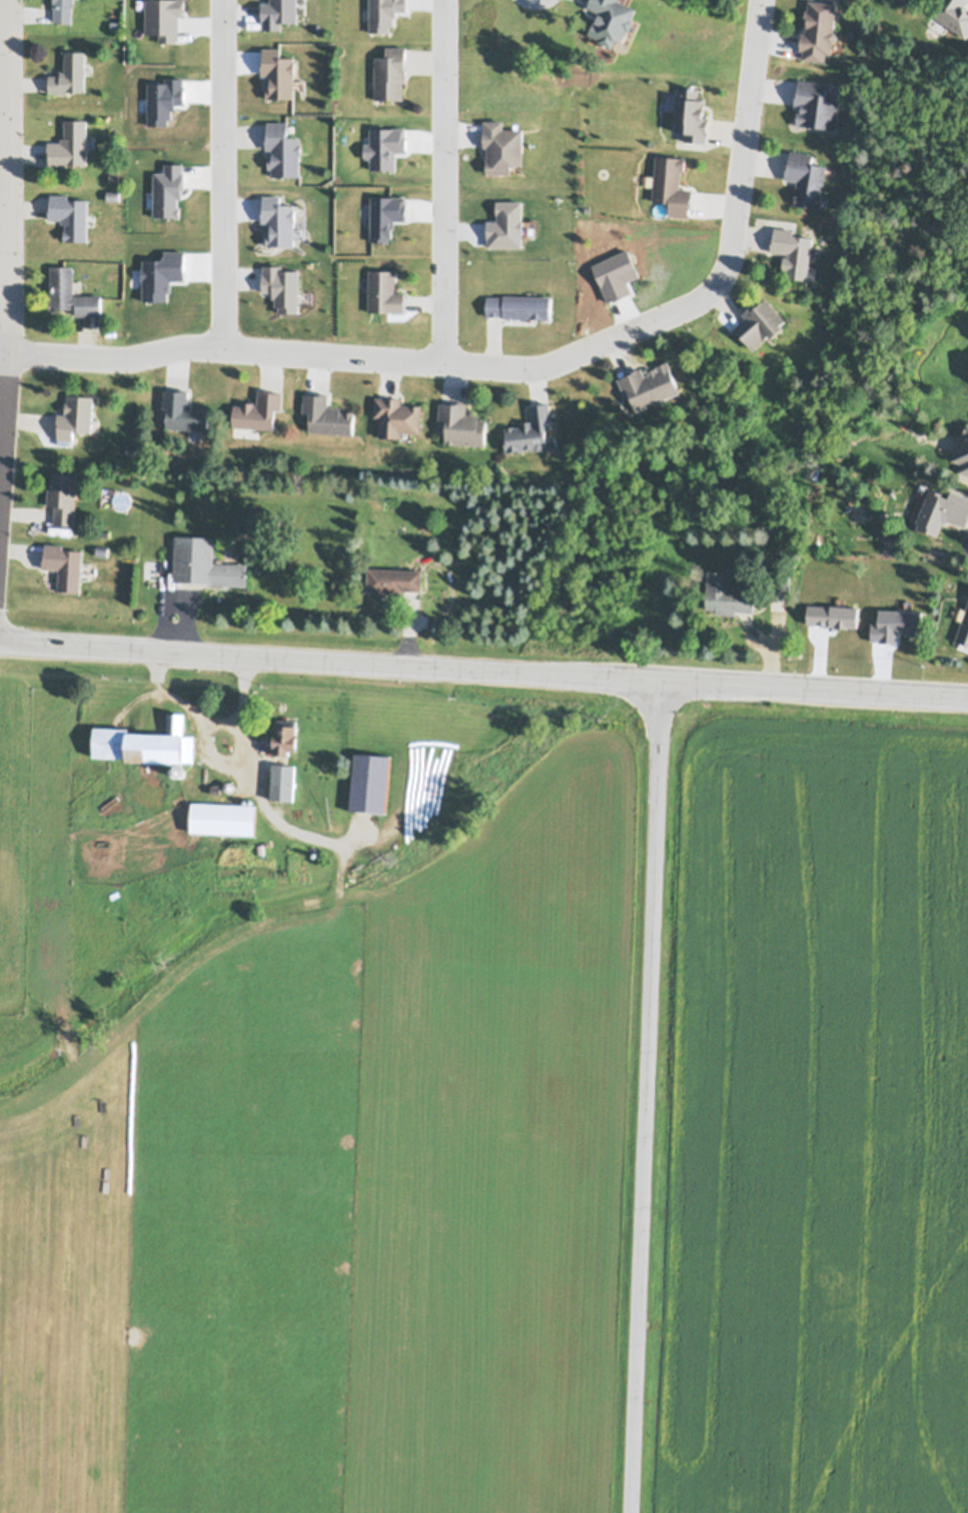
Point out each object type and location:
building: (64, 9)
building: (954, 14)
building: (611, 17)
building: (115, 23)
building: (818, 28)
building: (71, 70)
building: (390, 71)
building: (815, 103)
building: (691, 113)
building: (71, 142)
building: (502, 144)
building: (283, 147)
building: (115, 173)
road: (224, 173)
building: (805, 176)
road: (445, 181)
building: (671, 183)
building: (114, 193)
building: (71, 213)
building: (792, 249)
road: (11, 250)
road: (714, 284)
building: (385, 290)
building: (71, 291)
building: (519, 304)
building: (760, 320)
road: (221, 345)
building: (650, 383)
building: (184, 409)
building: (258, 409)
building: (327, 413)
building: (397, 414)
building: (75, 415)
building: (462, 422)
building: (532, 428)
building: (963, 452)
building: (63, 496)
building: (942, 509)
building: (105, 533)
road: (965, 542)
building: (102, 549)
building: (205, 562)
building: (64, 564)
building: (393, 578)
building: (779, 585)
building: (727, 593)
building: (963, 627)
road: (483, 670)
road: (203, 714)
building: (286, 735)
building: (147, 740)
building: (279, 768)
building: (180, 771)
building: (370, 781)
building: (229, 786)
building: (285, 787)
building: (280, 801)
building: (223, 816)
building: (315, 850)
road: (647, 1096)
crop: (815, 1117)

